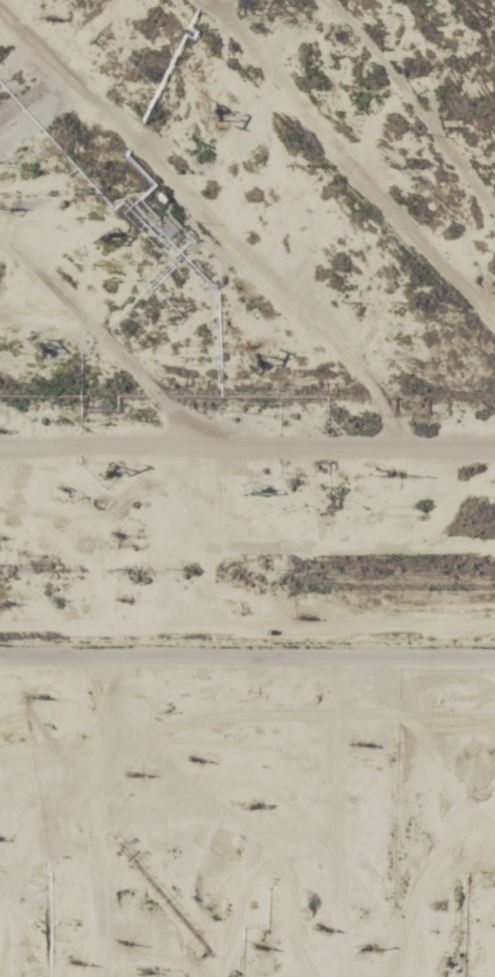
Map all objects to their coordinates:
road: (284, 94)
road: (152, 151)
road: (378, 176)
road: (295, 291)
road: (104, 329)
road: (247, 445)
road: (247, 641)
road: (236, 710)
road: (253, 902)

